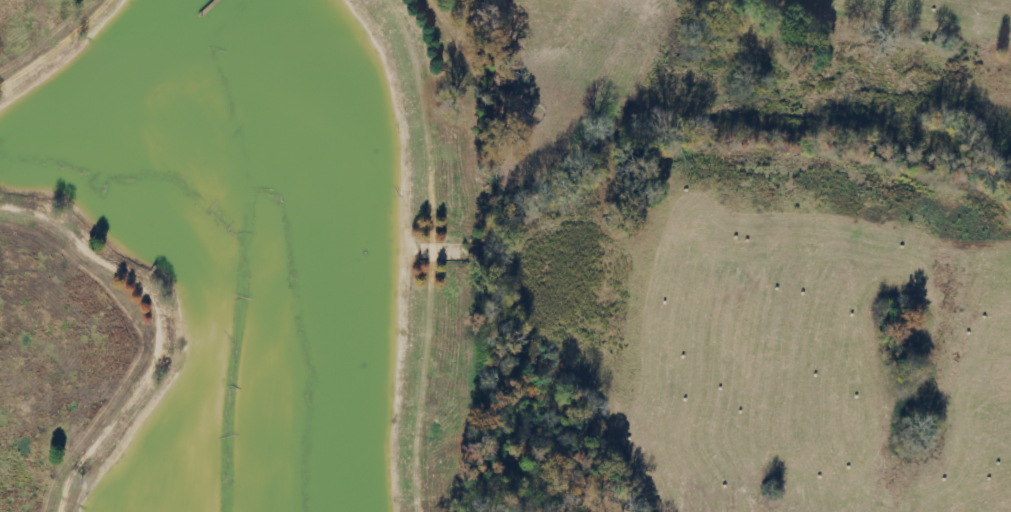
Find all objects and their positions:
road: (51, 256)

